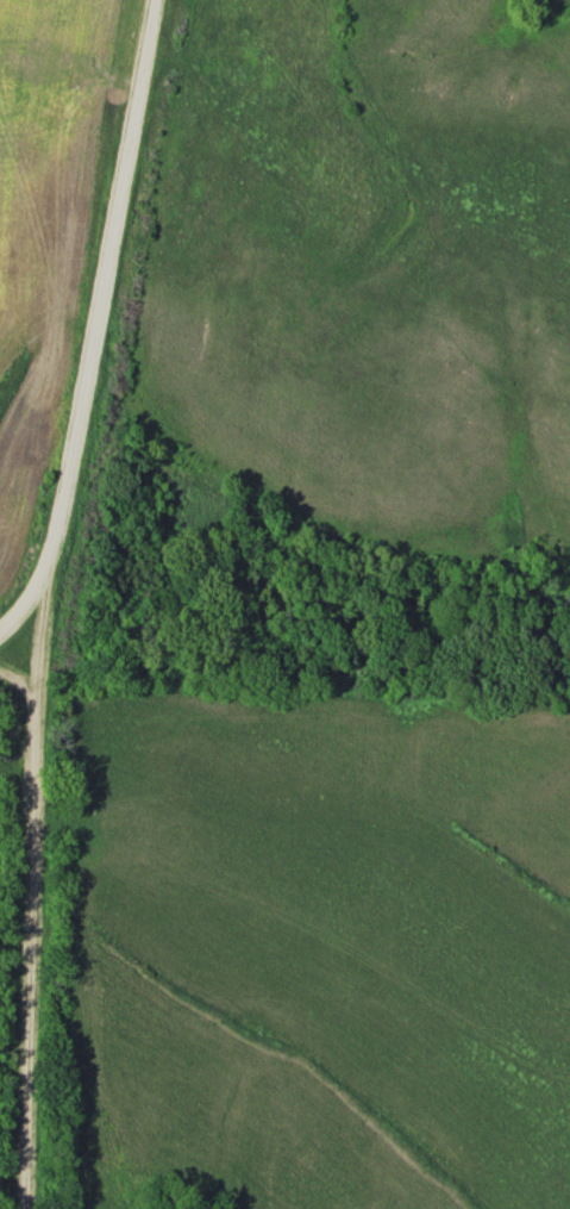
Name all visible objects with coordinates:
road: (238, 117)
road: (101, 323)
road: (36, 889)

